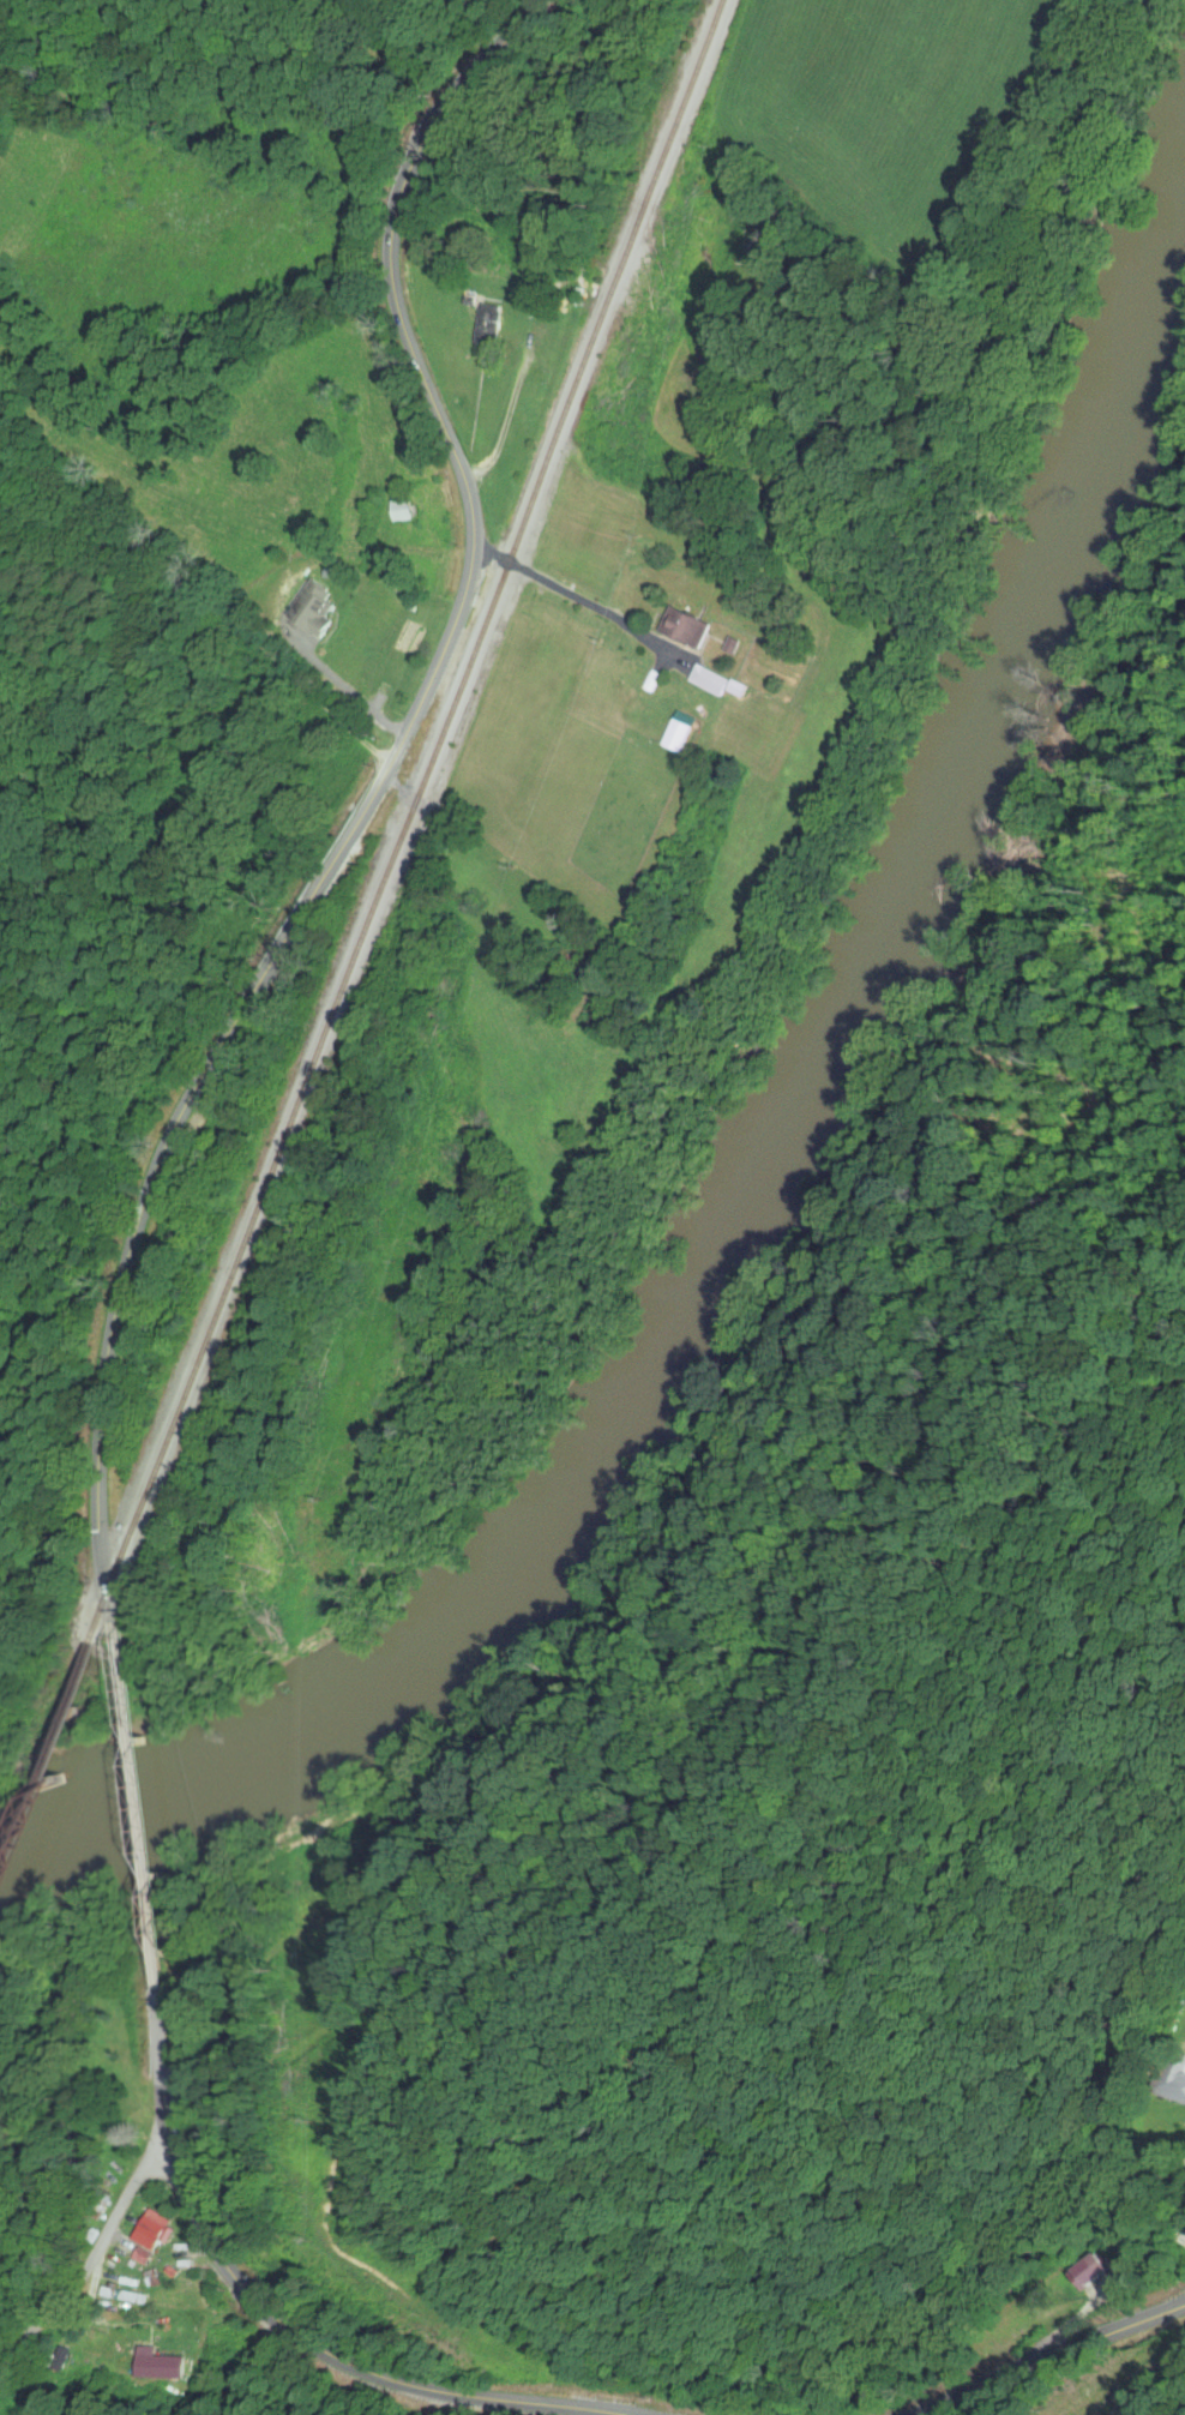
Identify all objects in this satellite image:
building: (536, 407)
building: (404, 509)
building: (691, 629)
building: (715, 683)
building: (680, 737)
road: (391, 763)
railway: (378, 889)
river: (723, 1140)
road: (122, 1708)
railway: (16, 1815)
road: (413, 2218)
building: (155, 2230)
road: (96, 2257)
road: (239, 2281)
road: (1057, 2357)
building: (158, 2368)

